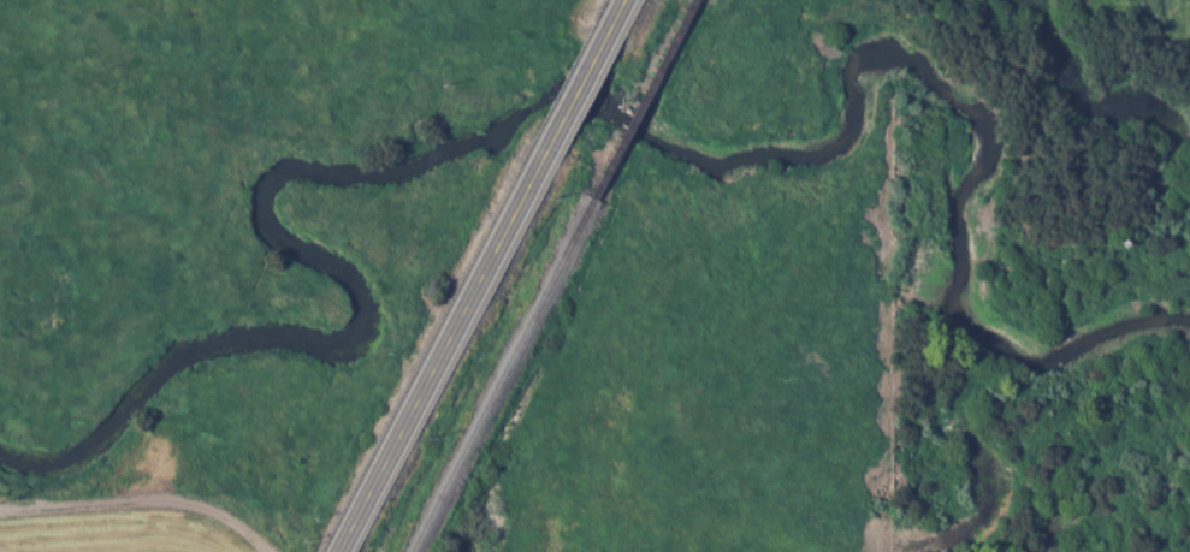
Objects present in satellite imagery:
road: (476, 275)
railway: (546, 275)

